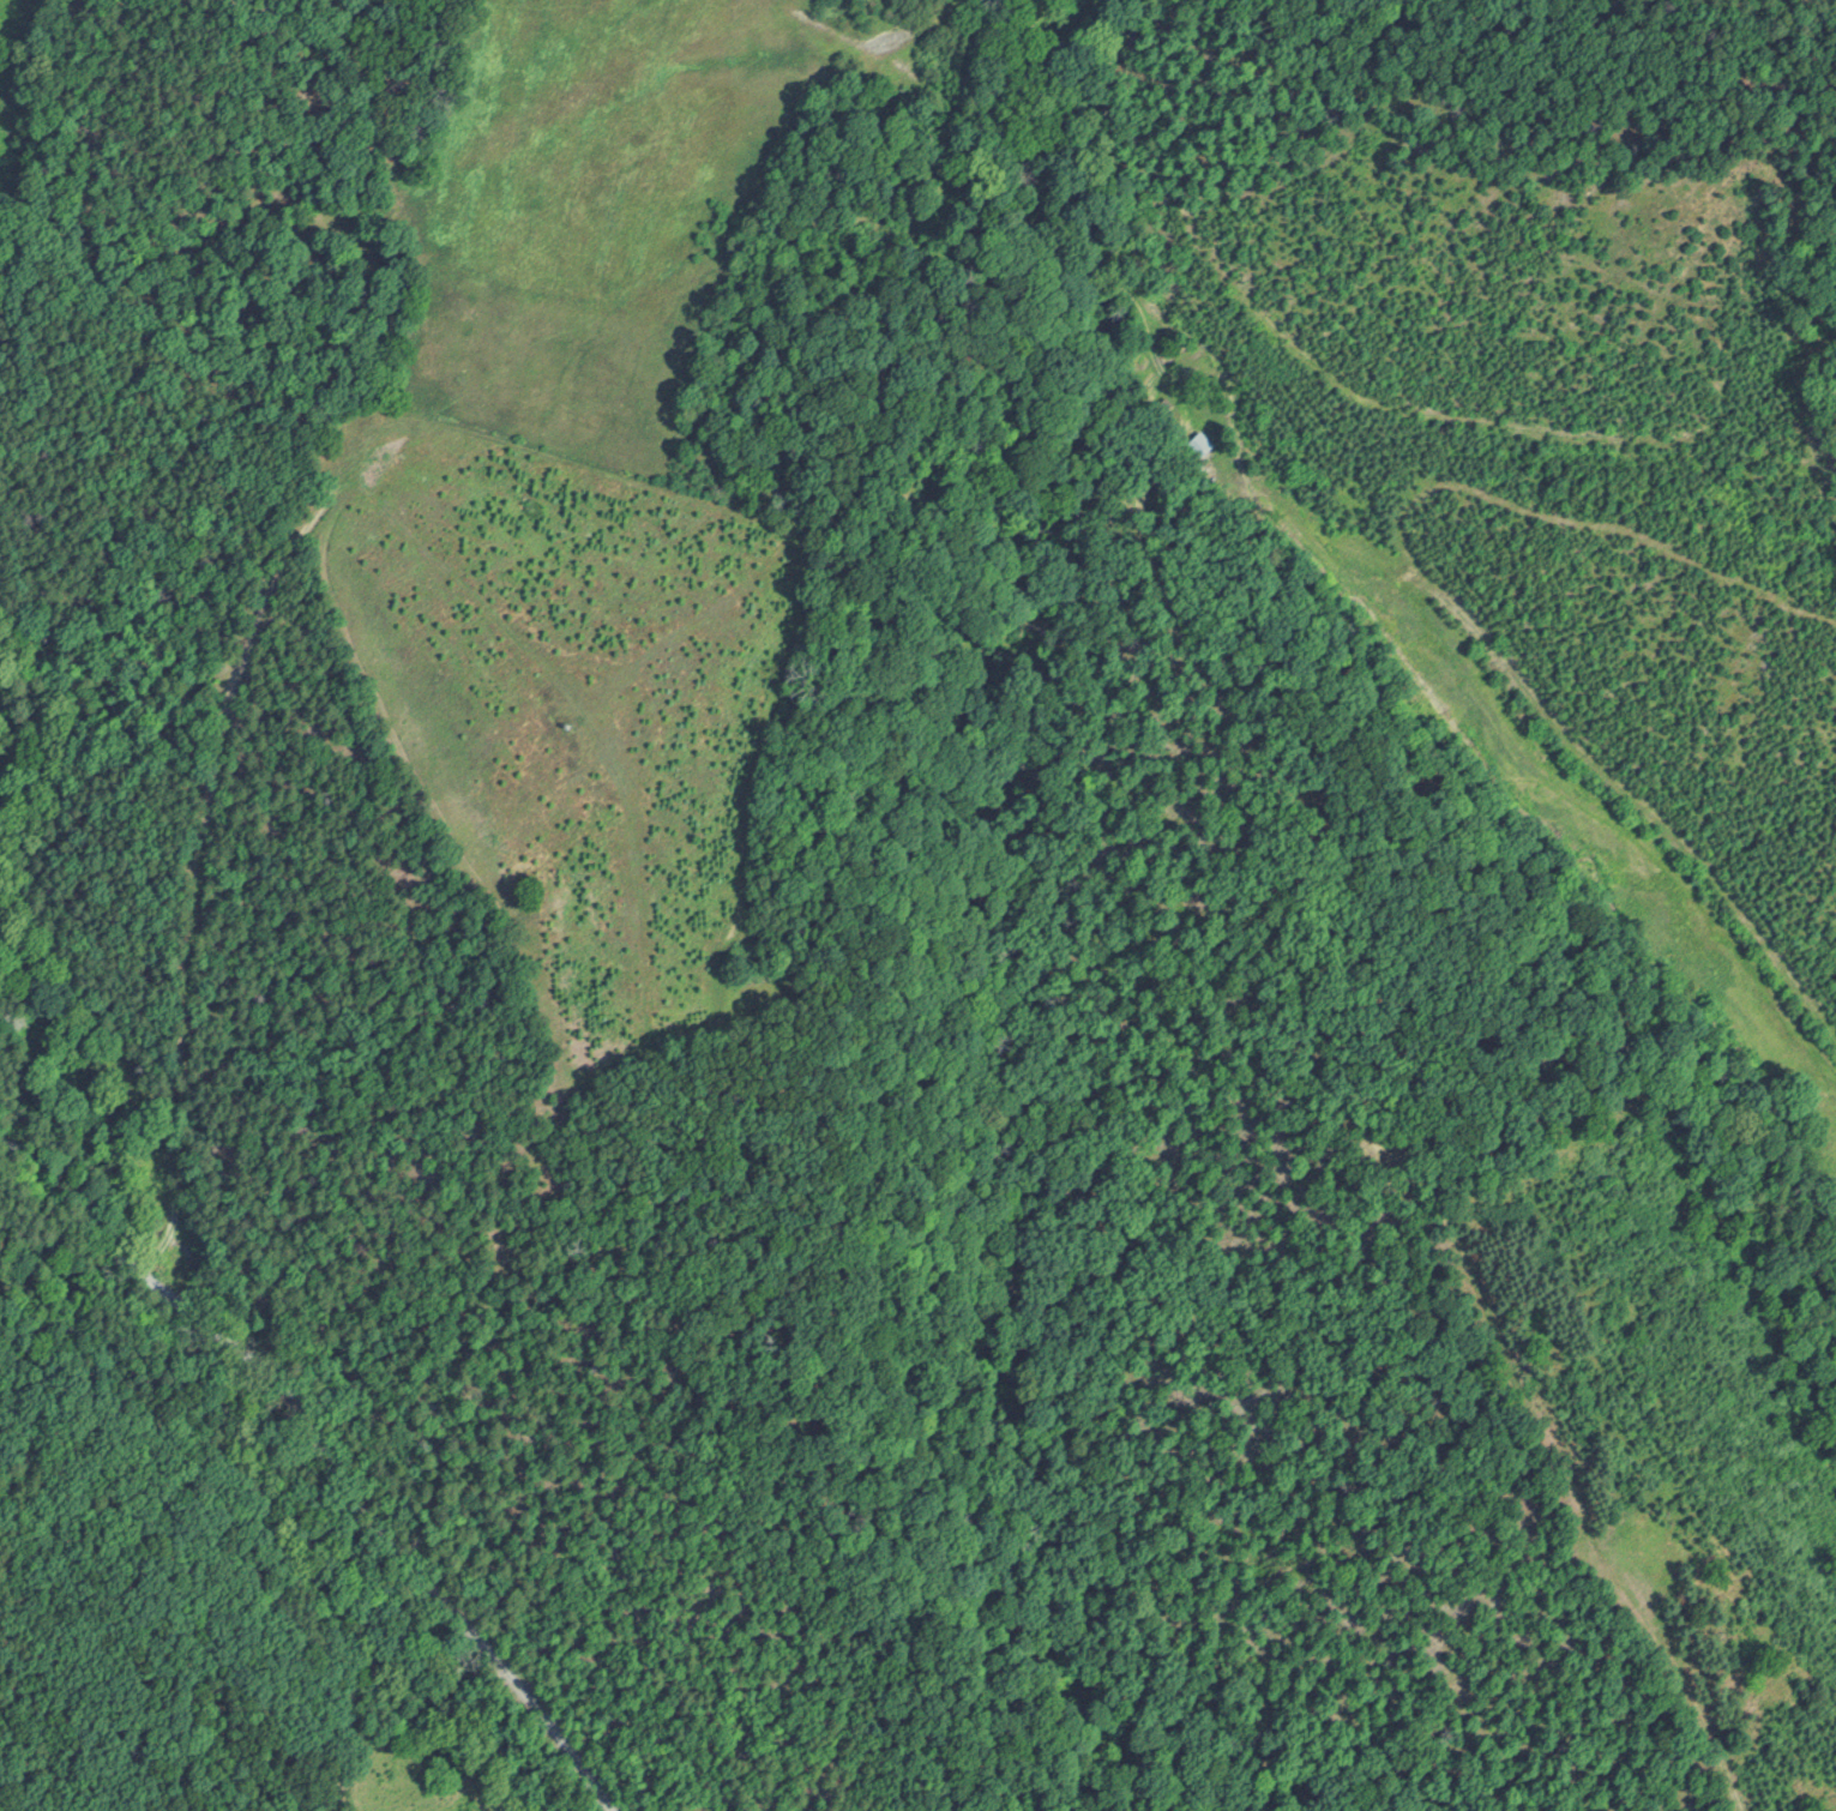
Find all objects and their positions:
building: (1198, 443)
road: (52, 1167)
road: (375, 1500)

